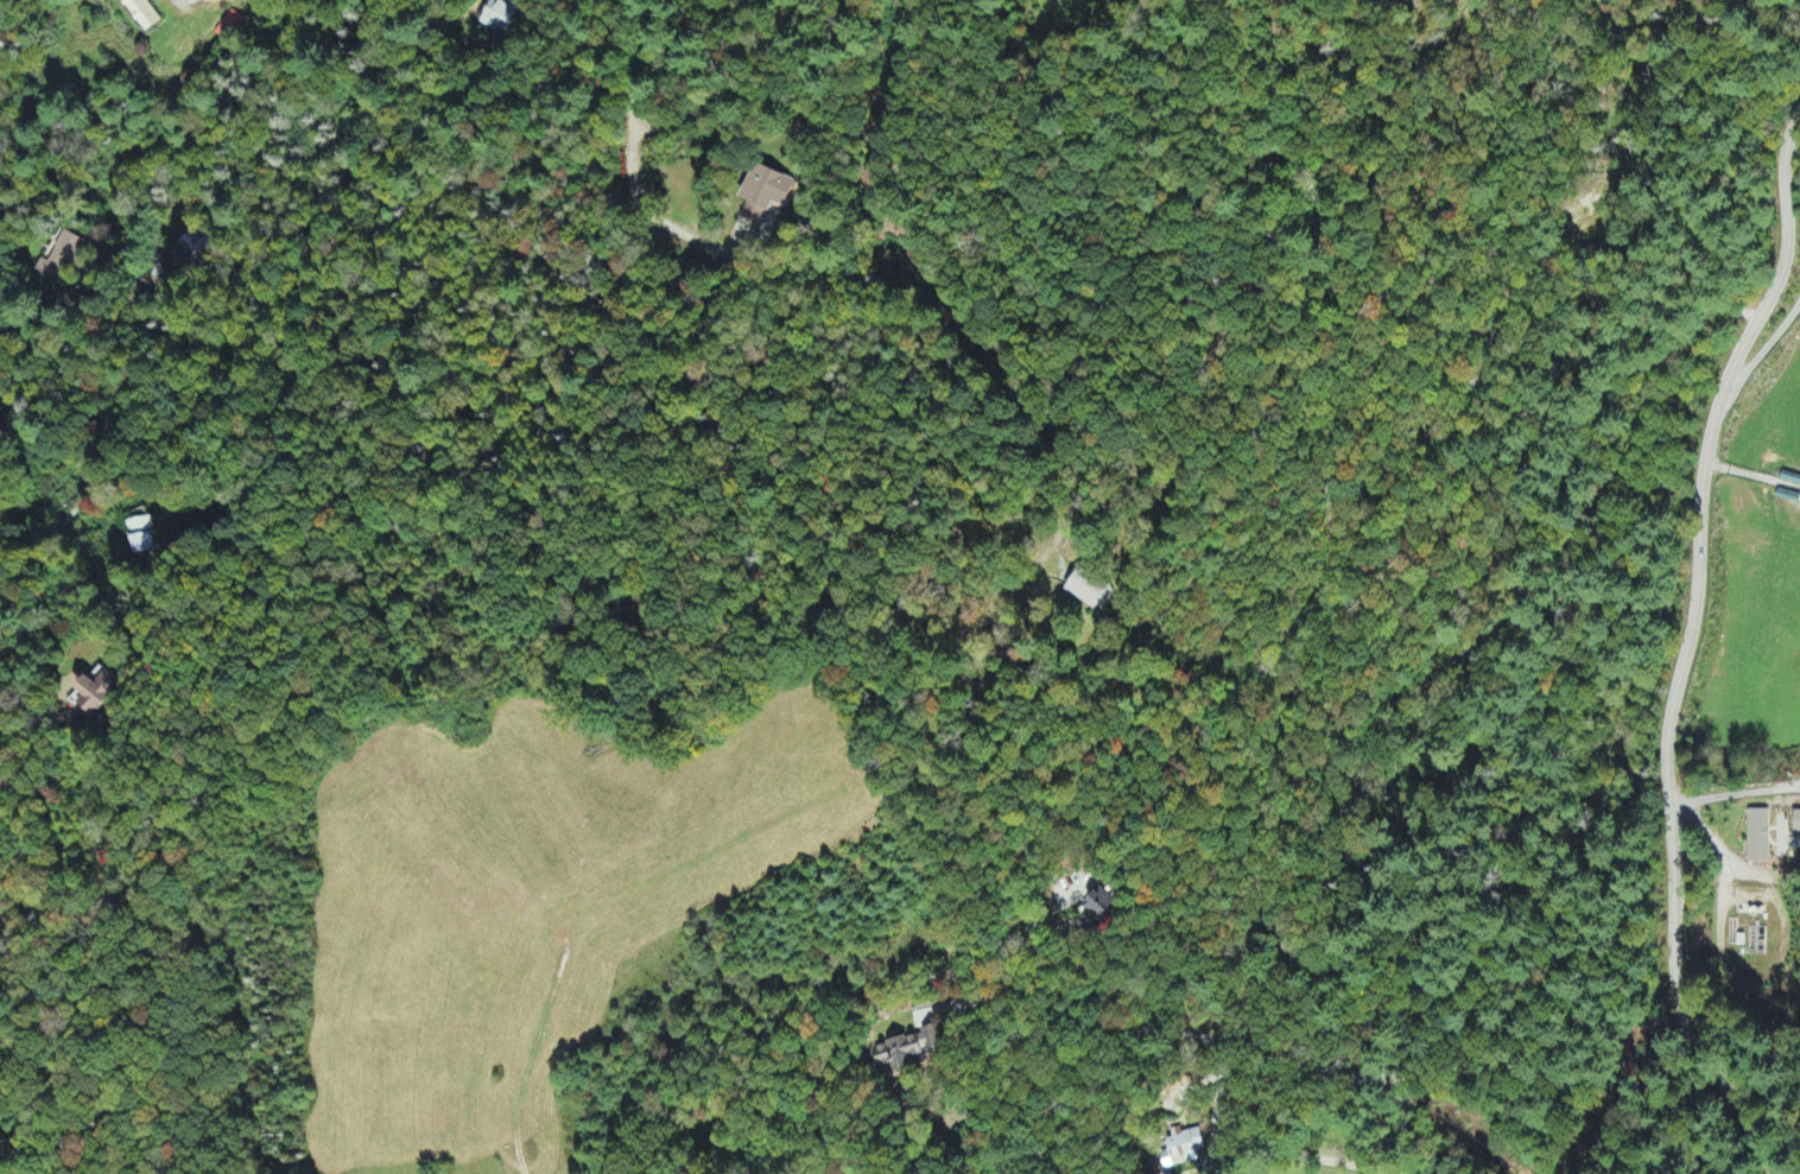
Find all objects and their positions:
building: (142, 14)
building: (500, 17)
building: (229, 27)
road: (1022, 142)
building: (765, 193)
building: (61, 259)
road: (1768, 343)
road: (232, 411)
road: (1357, 463)
road: (241, 509)
building: (141, 537)
road: (199, 577)
building: (1088, 591)
road: (1686, 643)
road: (55, 731)
road: (1734, 792)
building: (1796, 824)
building: (1757, 838)
road: (715, 874)
building: (1103, 906)
road: (1073, 991)
building: (909, 1051)
building: (1181, 1149)

